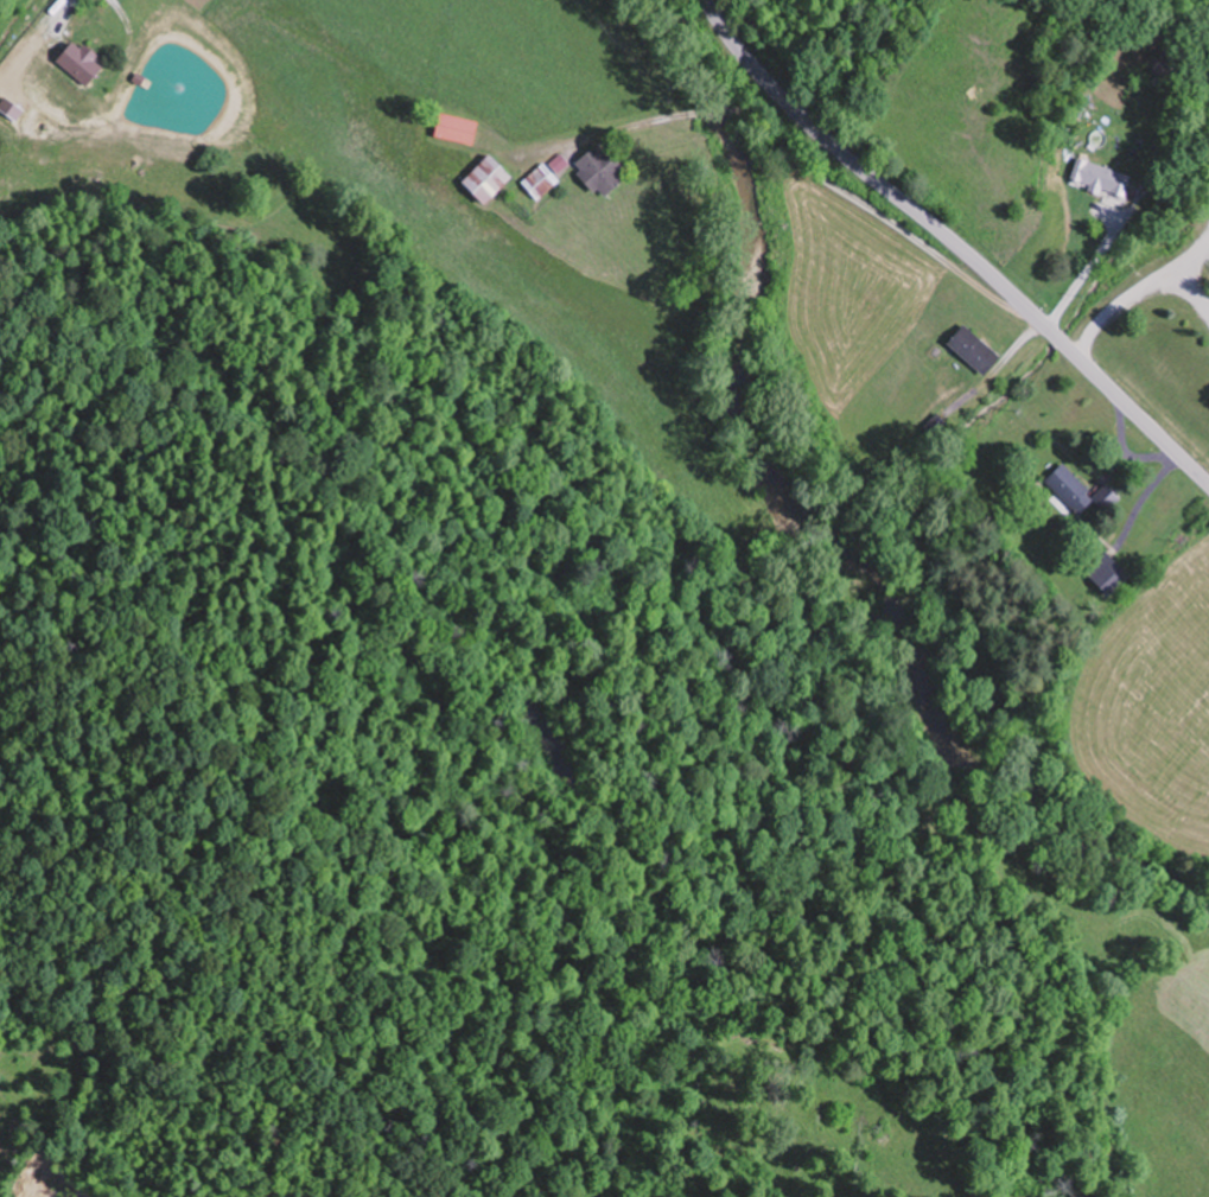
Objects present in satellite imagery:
building: (82, 63)
building: (1165, 63)
road: (714, 109)
road: (619, 127)
building: (459, 128)
building: (604, 168)
building: (490, 178)
building: (1105, 178)
building: (541, 180)
road: (878, 215)
road: (954, 242)
building: (978, 349)
building: (1070, 489)
building: (1109, 572)

